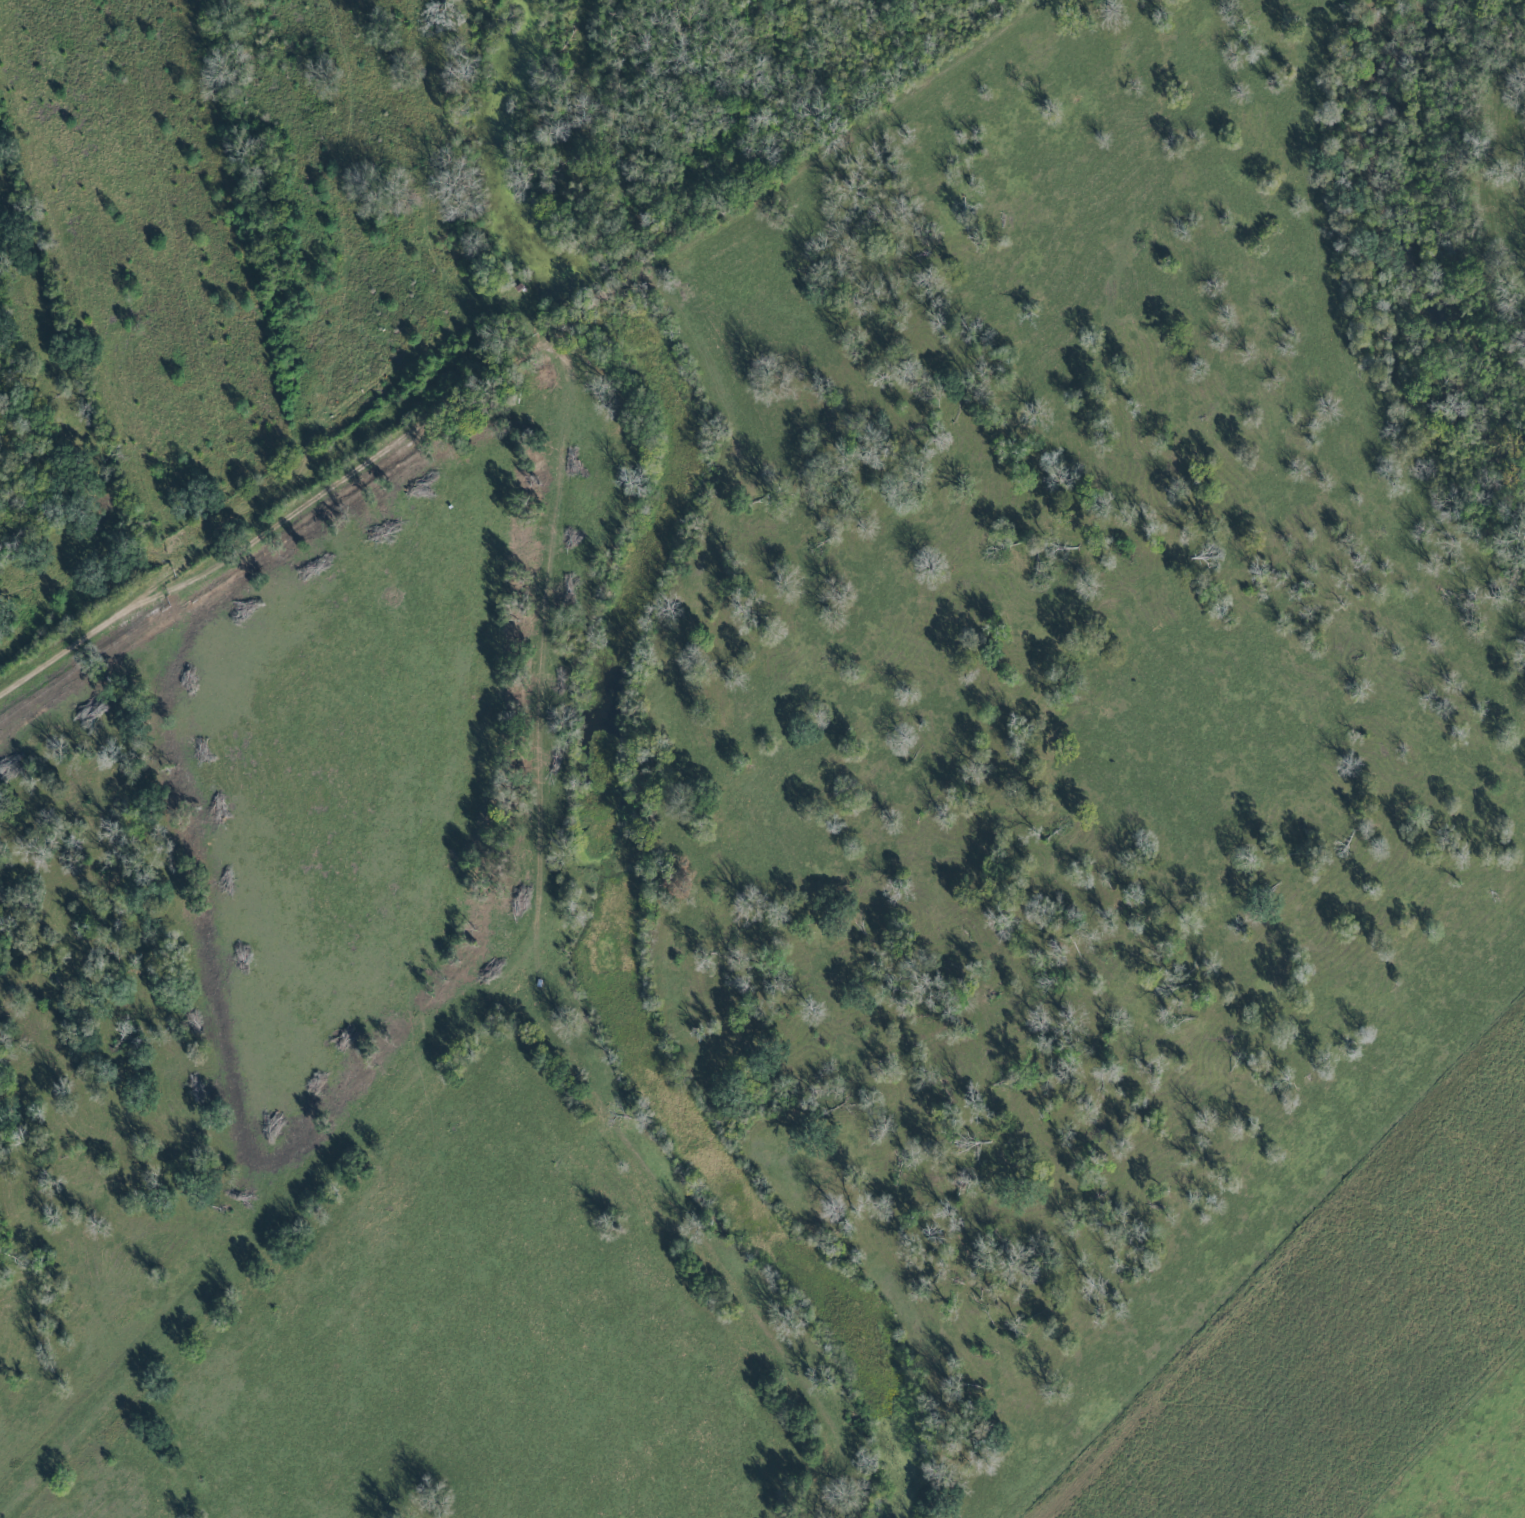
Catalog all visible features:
road: (804, 176)
road: (275, 532)
road: (547, 636)
road: (274, 1233)

